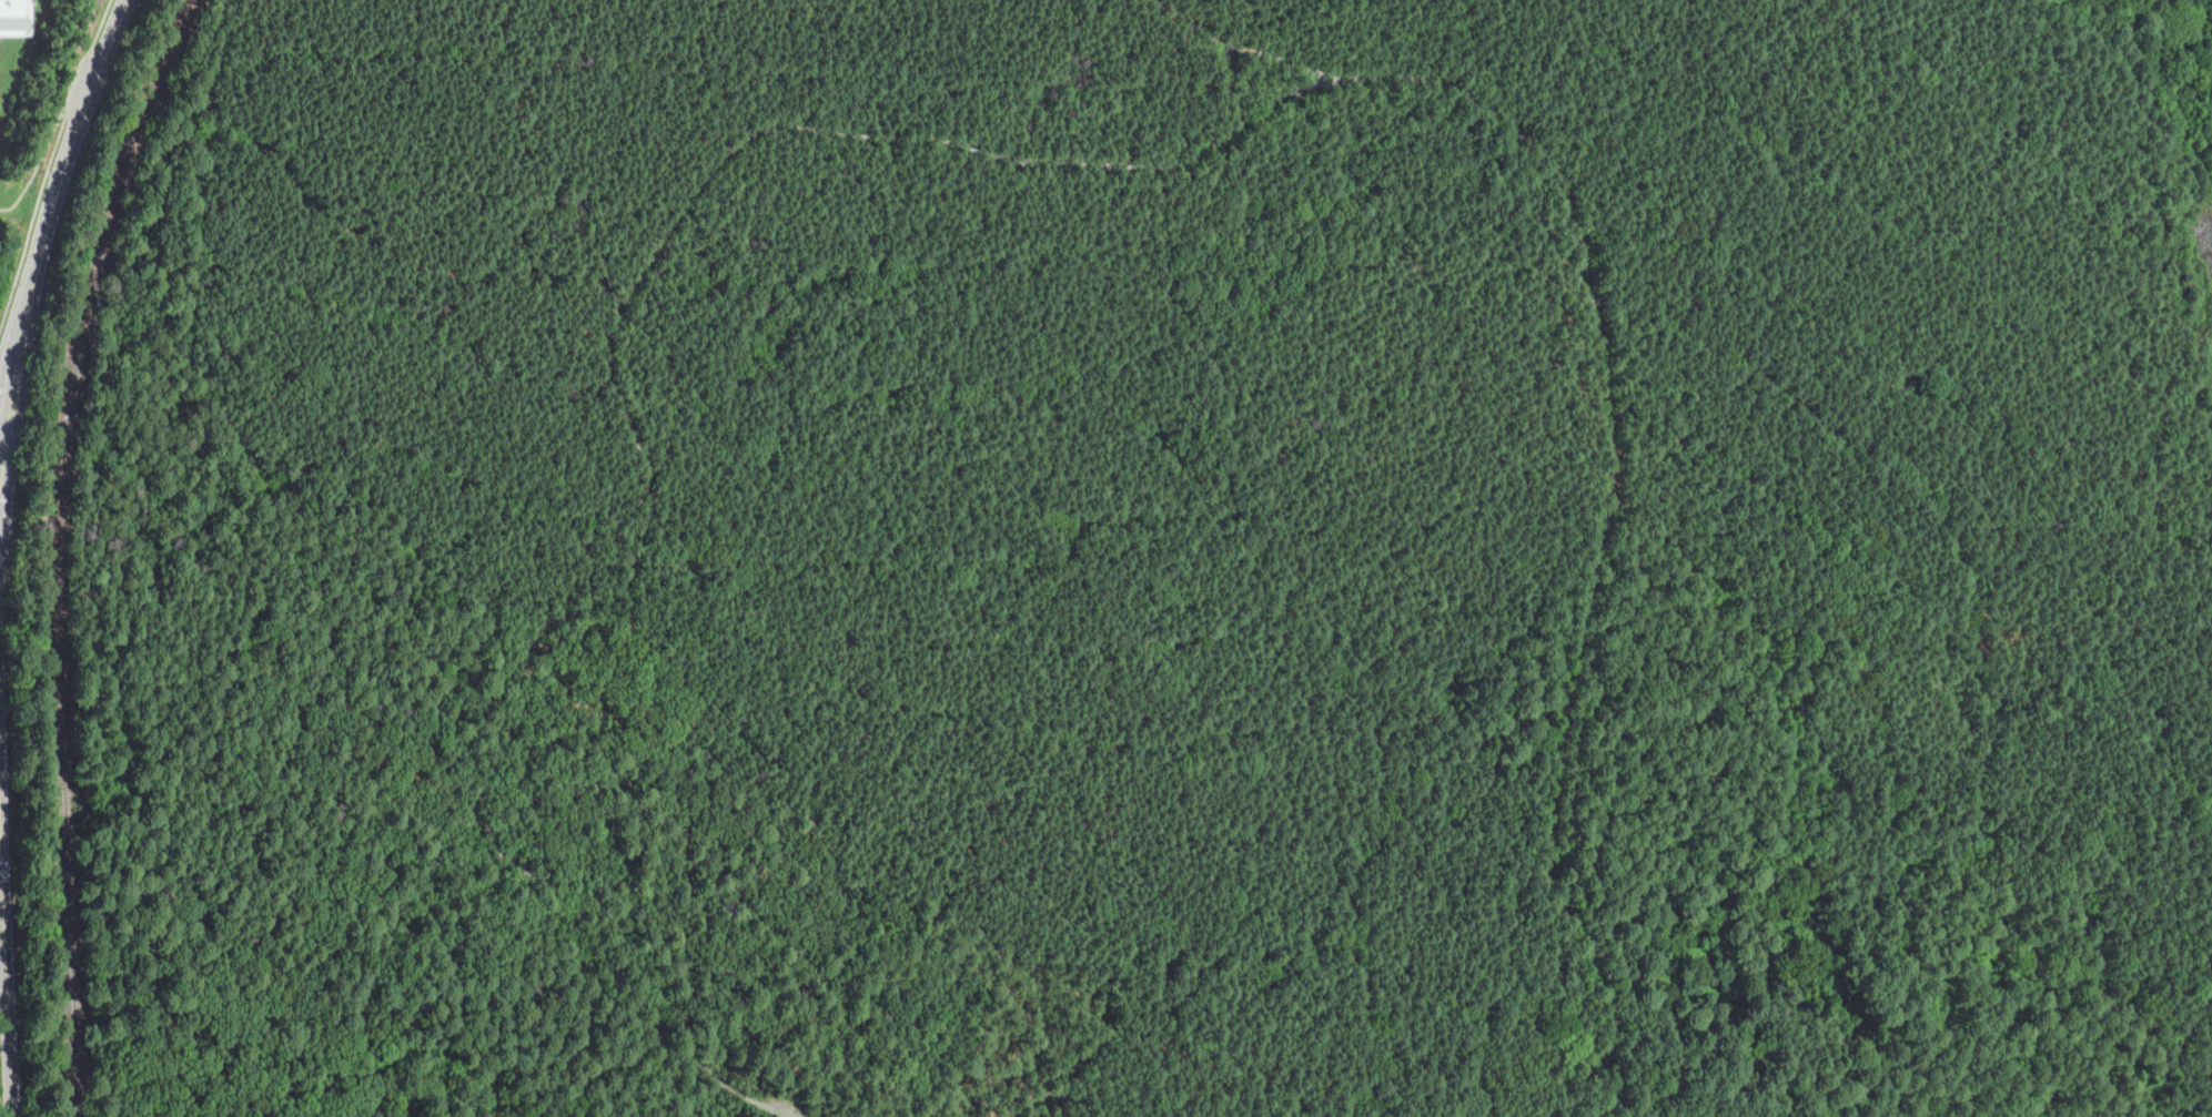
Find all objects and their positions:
building: (16, 17)
road: (1245, 42)
road: (77, 71)
road: (1225, 75)
road: (75, 140)
road: (39, 194)
road: (1150, 245)
road: (583, 248)
road: (605, 352)
road: (19, 361)
road: (1171, 417)
road: (4, 437)
road: (1739, 454)
road: (4, 480)
road: (1596, 522)
road: (50, 544)
railway: (57, 548)
road: (659, 600)
road: (2071, 608)
road: (145, 627)
road: (484, 676)
road: (535, 682)
road: (860, 756)
road: (529, 795)
road: (400, 842)
road: (97, 867)
road: (2052, 883)
road: (2, 908)
road: (2056, 911)
road: (341, 934)
road: (645, 965)
road: (7, 966)
road: (1632, 997)
road: (1805, 1040)
road: (933, 1100)

